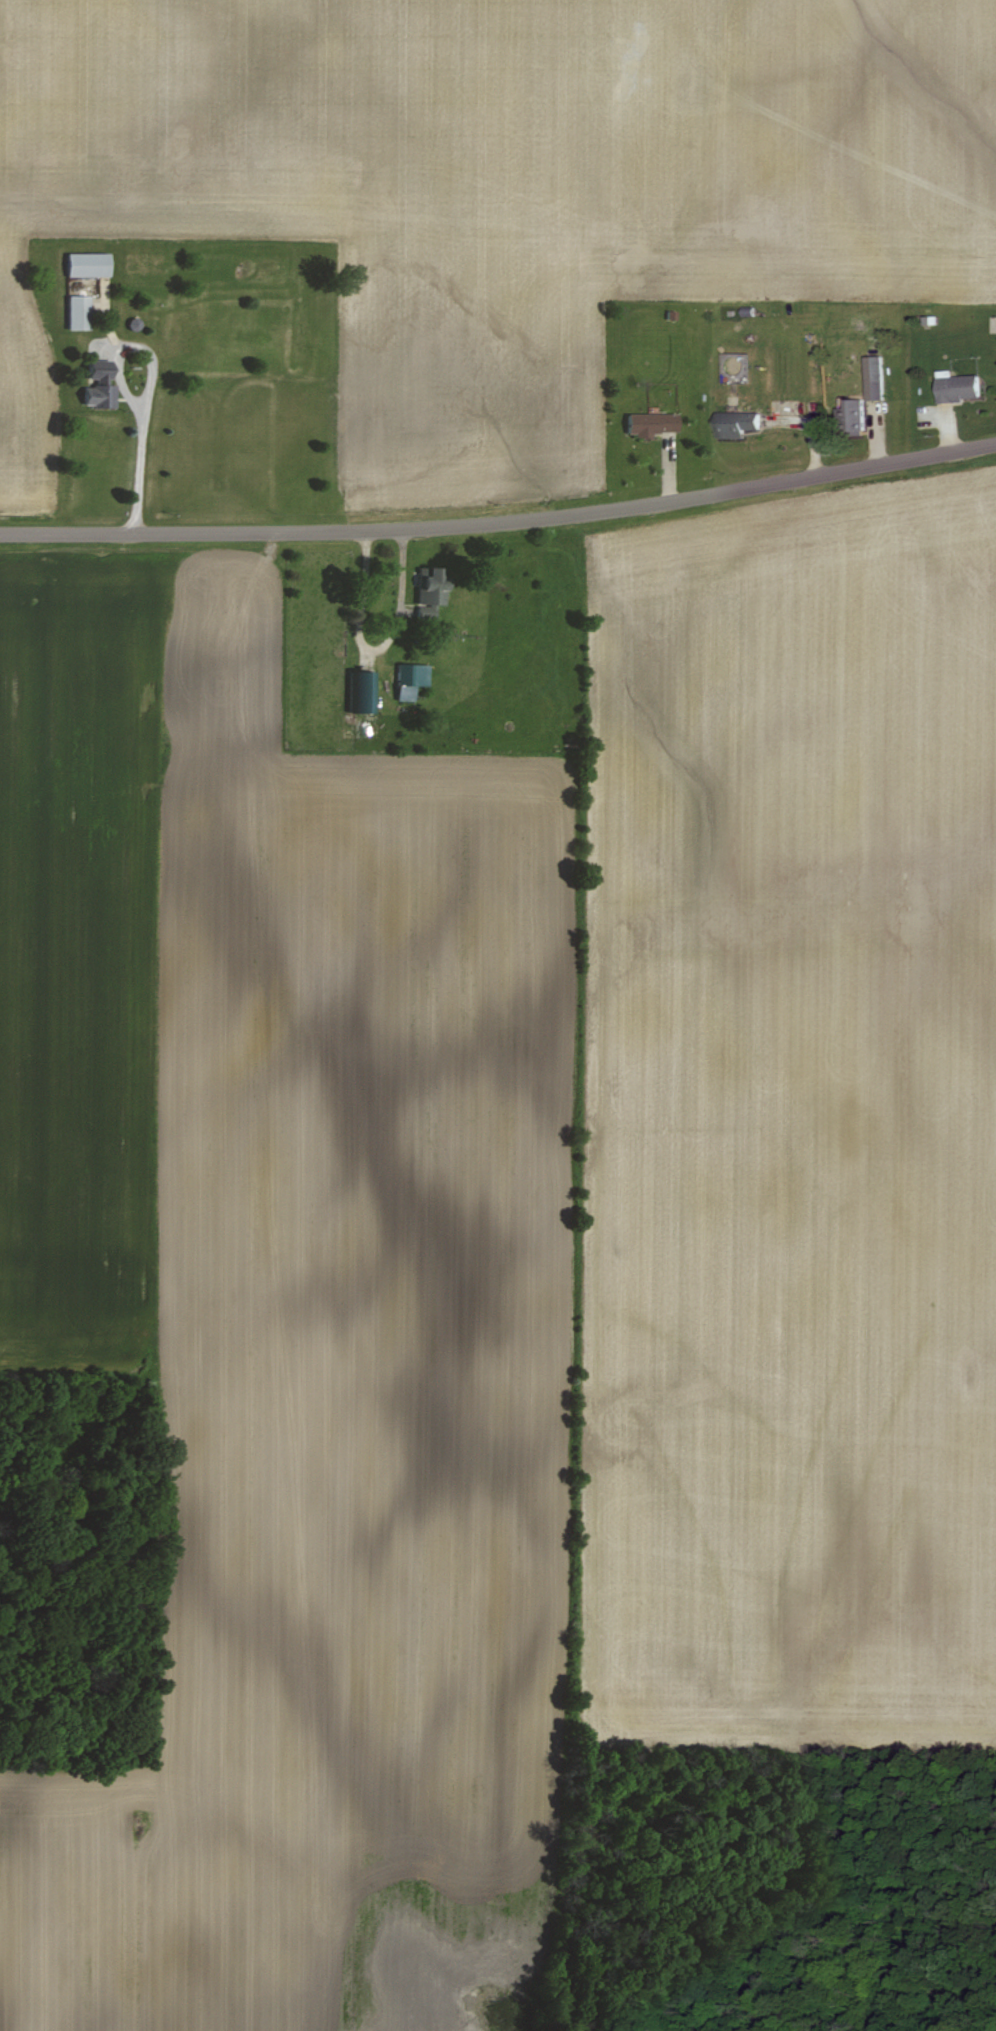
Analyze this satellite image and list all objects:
building: (89, 264)
building: (79, 312)
building: (876, 378)
building: (100, 386)
building: (960, 387)
road: (125, 390)
building: (855, 413)
building: (652, 424)
building: (738, 424)
road: (501, 520)
building: (432, 590)
building: (412, 680)
building: (363, 692)

